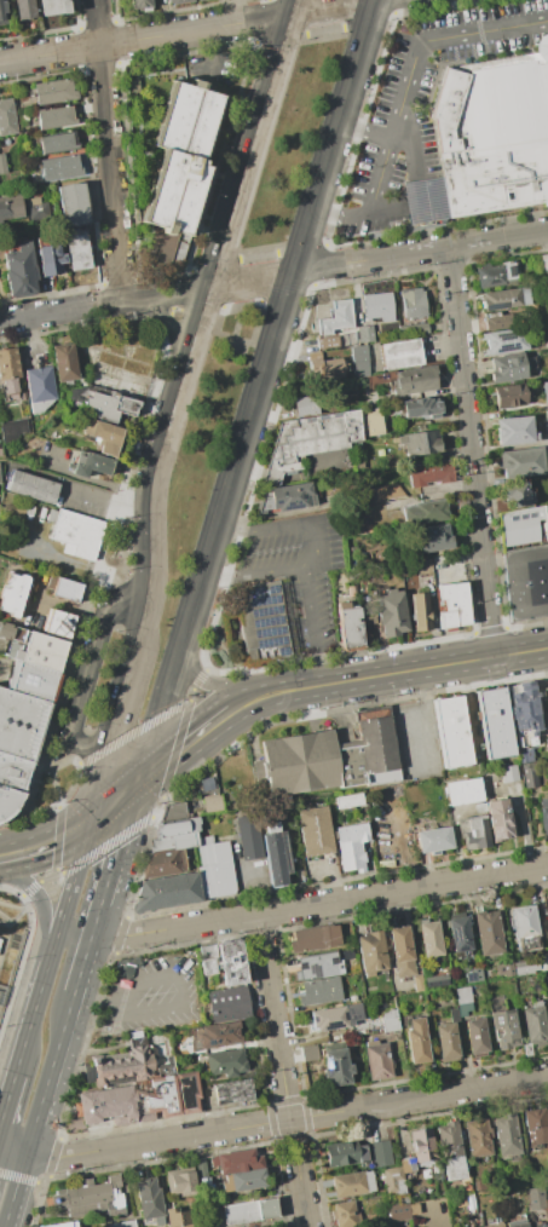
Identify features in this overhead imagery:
building: (177, 1)
building: (140, 4)
road: (328, 5)
road: (394, 6)
building: (52, 7)
building: (24, 8)
traffic signals: (299, 11)
building: (2, 12)
road: (367, 19)
road: (263, 21)
road: (323, 30)
road: (149, 36)
road: (279, 38)
building: (509, 58)
road: (413, 65)
building: (53, 91)
parking lot: (427, 103)
road: (237, 109)
road: (246, 110)
building: (7, 117)
building: (54, 117)
road: (360, 128)
road: (390, 138)
building: (492, 138)
building: (58, 143)
road: (108, 150)
building: (179, 156)
road: (218, 156)
building: (2, 163)
building: (59, 168)
road: (422, 200)
building: (425, 201)
building: (73, 204)
building: (10, 208)
building: (38, 209)
road: (388, 209)
road: (338, 213)
building: (76, 248)
road: (299, 248)
road: (256, 255)
road: (381, 257)
building: (50, 260)
building: (543, 261)
road: (213, 264)
road: (317, 264)
building: (19, 269)
building: (496, 275)
road: (215, 283)
road: (180, 288)
road: (307, 289)
road: (167, 292)
road: (281, 295)
building: (502, 299)
road: (102, 304)
road: (240, 304)
building: (413, 304)
building: (377, 306)
road: (172, 307)
road: (201, 309)
road: (276, 311)
road: (41, 313)
building: (338, 315)
road: (163, 319)
road: (218, 319)
road: (168, 322)
road: (256, 322)
building: (495, 323)
road: (235, 328)
building: (413, 329)
building: (364, 334)
road: (232, 338)
building: (506, 342)
building: (327, 344)
building: (399, 355)
building: (358, 363)
building: (64, 364)
building: (509, 368)
building: (327, 370)
building: (8, 373)
building: (414, 381)
building: (116, 382)
building: (40, 388)
building: (509, 396)
building: (302, 405)
building: (106, 407)
building: (421, 408)
building: (543, 415)
building: (547, 417)
building: (371, 422)
building: (12, 430)
building: (515, 431)
building: (104, 436)
building: (307, 442)
building: (420, 444)
road: (472, 451)
building: (520, 462)
building: (92, 465)
building: (429, 473)
road: (255, 476)
building: (31, 486)
building: (381, 492)
building: (515, 496)
building: (284, 499)
road: (106, 501)
building: (426, 511)
road: (125, 523)
building: (521, 528)
building: (368, 529)
building: (75, 534)
building: (433, 538)
road: (316, 552)
road: (127, 553)
road: (133, 554)
road: (122, 560)
road: (94, 566)
building: (422, 568)
parking lot: (299, 570)
building: (525, 582)
building: (64, 588)
building: (12, 594)
building: (454, 605)
road: (204, 607)
road: (210, 610)
building: (420, 612)
road: (148, 615)
building: (391, 615)
building: (260, 620)
building: (58, 623)
road: (312, 626)
building: (348, 627)
building: (6, 630)
building: (18, 634)
building: (39, 651)
road: (405, 670)
road: (92, 673)
building: (547, 679)
building: (31, 680)
road: (202, 680)
road: (158, 703)
road: (248, 703)
building: (524, 714)
road: (425, 719)
building: (495, 724)
road: (181, 728)
building: (451, 731)
road: (135, 732)
road: (113, 738)
building: (546, 744)
building: (18, 745)
road: (185, 748)
building: (524, 755)
building: (328, 759)
building: (532, 772)
building: (508, 773)
traffic signals: (138, 784)
road: (35, 789)
building: (463, 791)
building: (411, 795)
road: (64, 799)
road: (114, 801)
building: (348, 801)
building: (210, 802)
building: (480, 807)
building: (173, 813)
building: (543, 814)
traffic signals: (91, 819)
building: (498, 819)
building: (271, 826)
building: (177, 828)
building: (315, 831)
building: (475, 833)
building: (249, 839)
building: (204, 840)
building: (432, 840)
building: (172, 842)
road: (106, 845)
building: (351, 846)
road: (48, 847)
road: (143, 856)
building: (276, 857)
road: (56, 859)
road: (113, 859)
building: (385, 863)
building: (163, 864)
building: (215, 870)
road: (59, 887)
road: (68, 891)
building: (167, 892)
road: (40, 901)
road: (319, 904)
building: (547, 904)
road: (19, 908)
road: (12, 921)
building: (524, 929)
building: (458, 932)
building: (488, 932)
road: (74, 933)
road: (119, 934)
building: (313, 938)
building: (429, 939)
building: (400, 951)
road: (24, 952)
building: (371, 952)
building: (345, 954)
building: (208, 960)
building: (542, 961)
building: (230, 962)
road: (82, 964)
building: (317, 966)
building: (504, 967)
building: (525, 967)
building: (127, 969)
building: (472, 974)
building: (435, 980)
building: (417, 983)
building: (319, 991)
road: (183, 995)
parking lot: (154, 997)
building: (352, 997)
building: (463, 1000)
building: (229, 1002)
road: (117, 1009)
building: (452, 1014)
building: (335, 1016)
road: (30, 1020)
building: (388, 1021)
building: (535, 1024)
building: (503, 1029)
building: (214, 1035)
building: (475, 1037)
building: (416, 1041)
building: (445, 1042)
road: (85, 1045)
building: (527, 1048)
building: (308, 1052)
building: (377, 1060)
building: (225, 1062)
building: (335, 1065)
building: (121, 1066)
building: (167, 1066)
road: (281, 1071)
building: (233, 1091)
road: (7, 1099)
building: (139, 1100)
road: (38, 1110)
building: (547, 1110)
road: (287, 1118)
building: (536, 1125)
building: (506, 1136)
building: (477, 1137)
road: (13, 1145)
building: (422, 1146)
building: (450, 1151)
building: (380, 1153)
building: (345, 1154)
road: (53, 1157)
building: (236, 1160)
building: (200, 1164)
building: (406, 1164)
road: (22, 1177)
building: (243, 1180)
building: (392, 1180)
building: (180, 1182)
building: (352, 1183)
building: (99, 1198)
building: (536, 1198)
road: (40, 1199)
building: (149, 1202)
building: (490, 1203)
building: (244, 1211)
building: (398, 1211)
building: (345, 1214)
building: (177, 1217)
building: (121, 1223)
building: (515, 1223)
building: (63, 1225)
building: (226, 1225)
building: (495, 1225)
building: (537, 1225)

